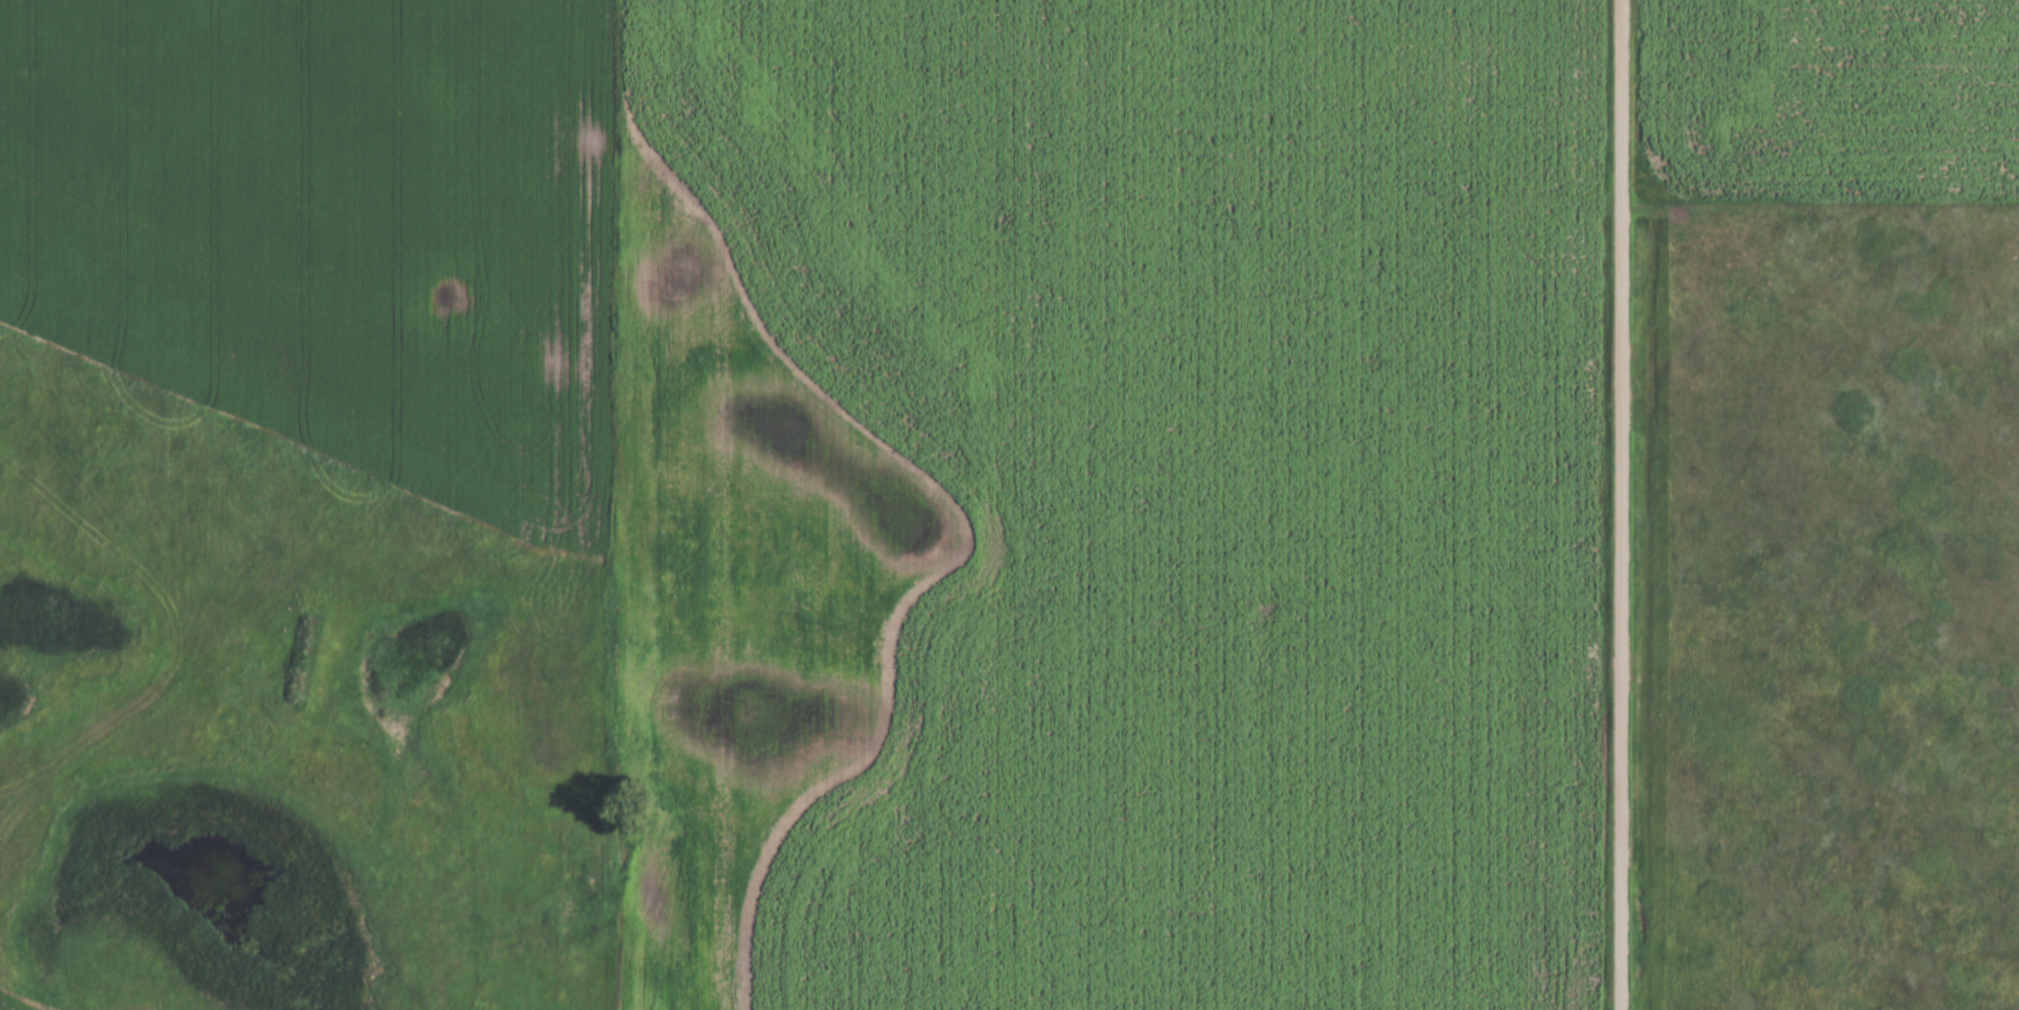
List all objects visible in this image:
road: (1623, 505)

